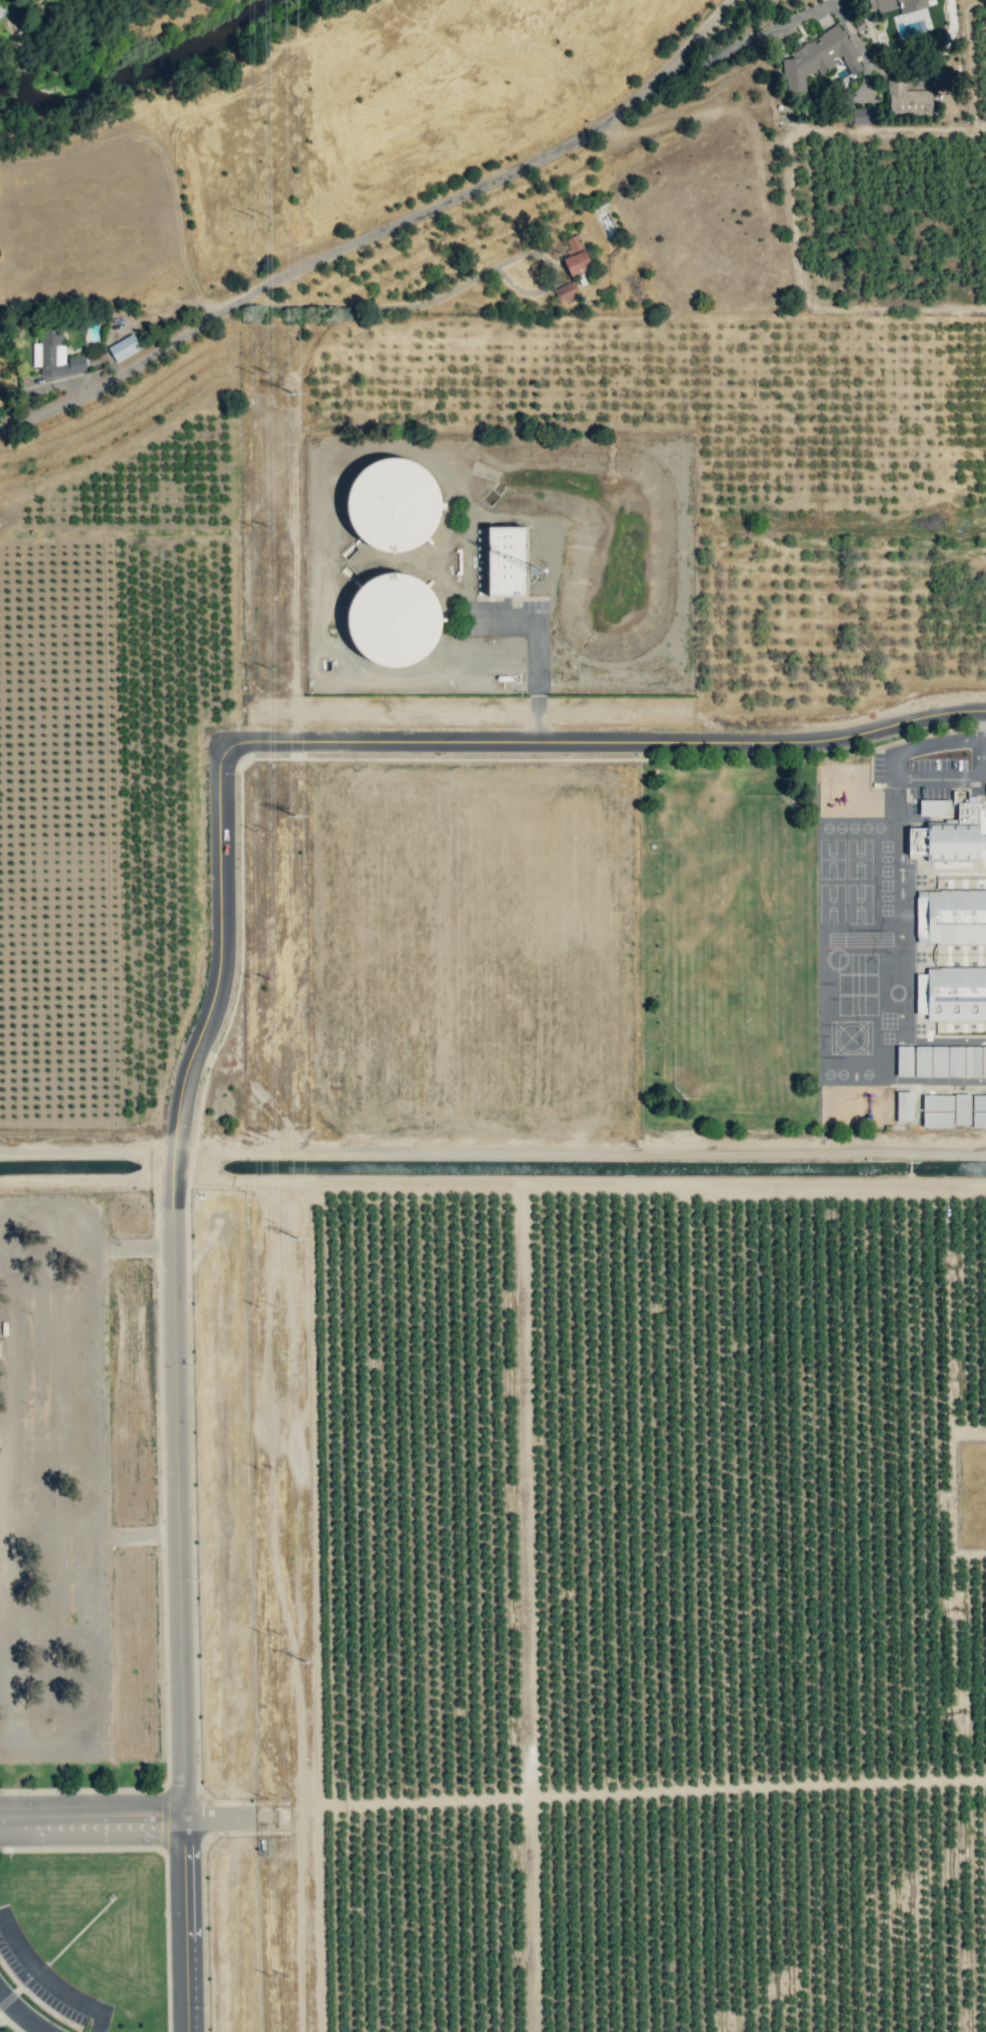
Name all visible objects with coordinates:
building: (905, 14)
building: (818, 57)
building: (907, 98)
building: (863, 115)
road: (380, 230)
building: (575, 255)
building: (566, 291)
building: (124, 347)
building: (55, 354)
power tower: (290, 394)
building: (392, 504)
building: (505, 560)
building: (393, 619)
road: (981, 720)
road: (984, 739)
road: (647, 741)
road: (899, 781)
building: (934, 807)
power tower: (297, 815)
building: (950, 836)
road: (225, 911)
building: (951, 916)
building: (950, 993)
building: (904, 1060)
building: (930, 1060)
building: (966, 1061)
building: (937, 1102)
building: (904, 1106)
building: (961, 1108)
building: (978, 1110)
building: (937, 1119)
road: (493, 1145)
power tower: (292, 1242)
road: (179, 1590)
power tower: (303, 1669)
road: (92, 1821)
road: (49, 1979)
road: (20, 2014)

